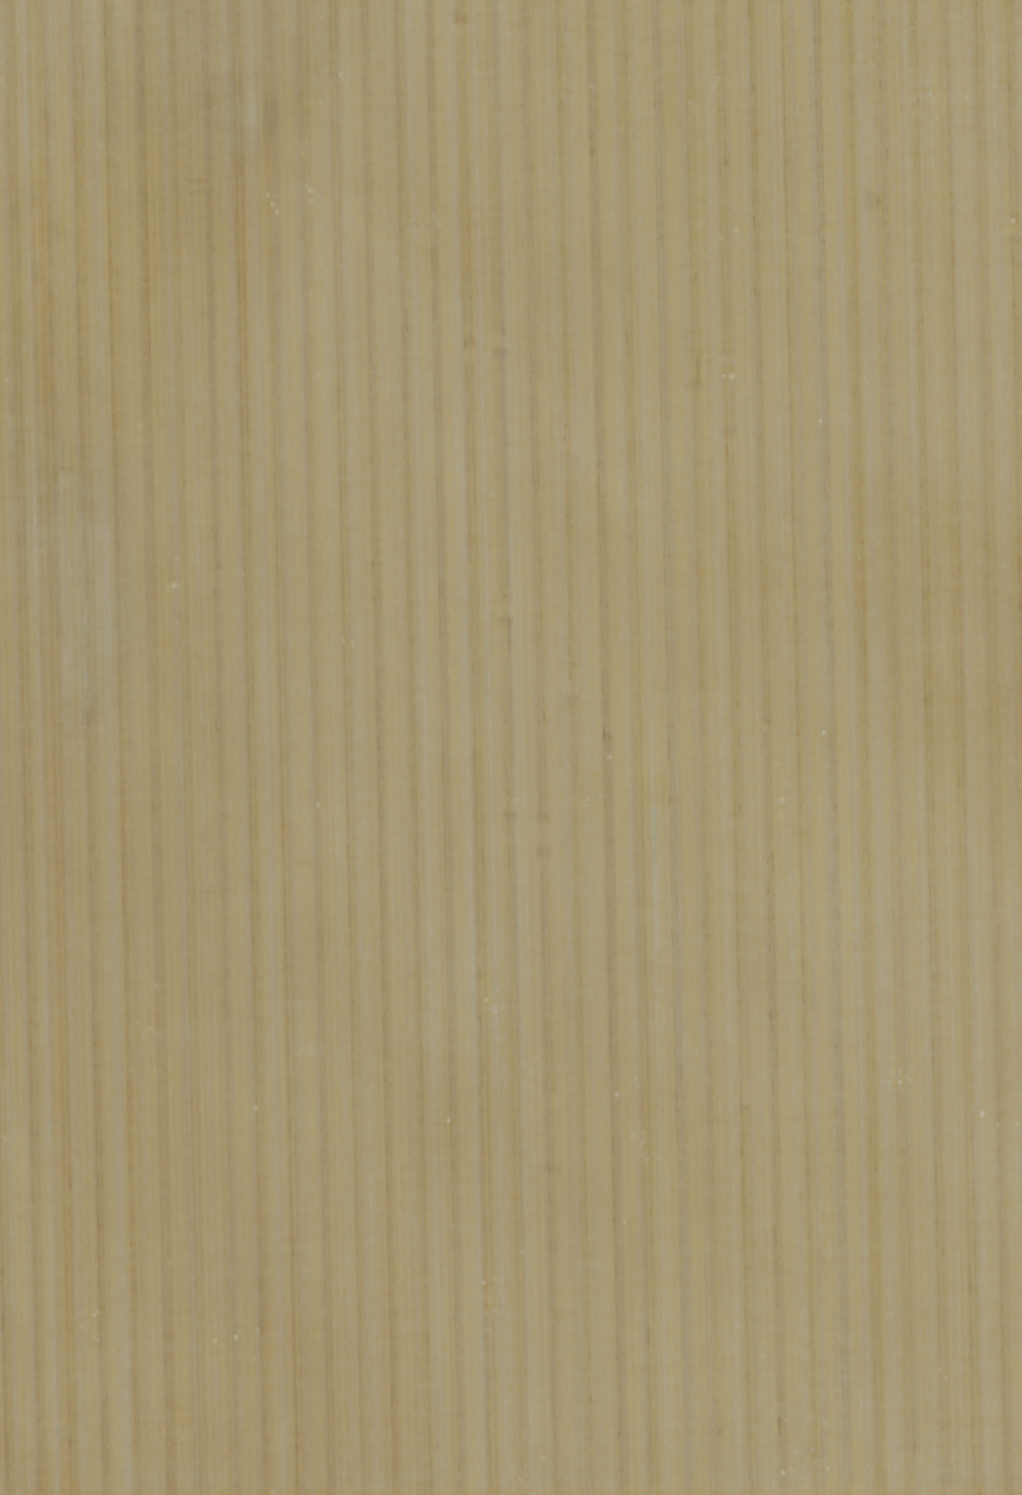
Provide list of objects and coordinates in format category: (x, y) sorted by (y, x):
crop: (511, 747)

